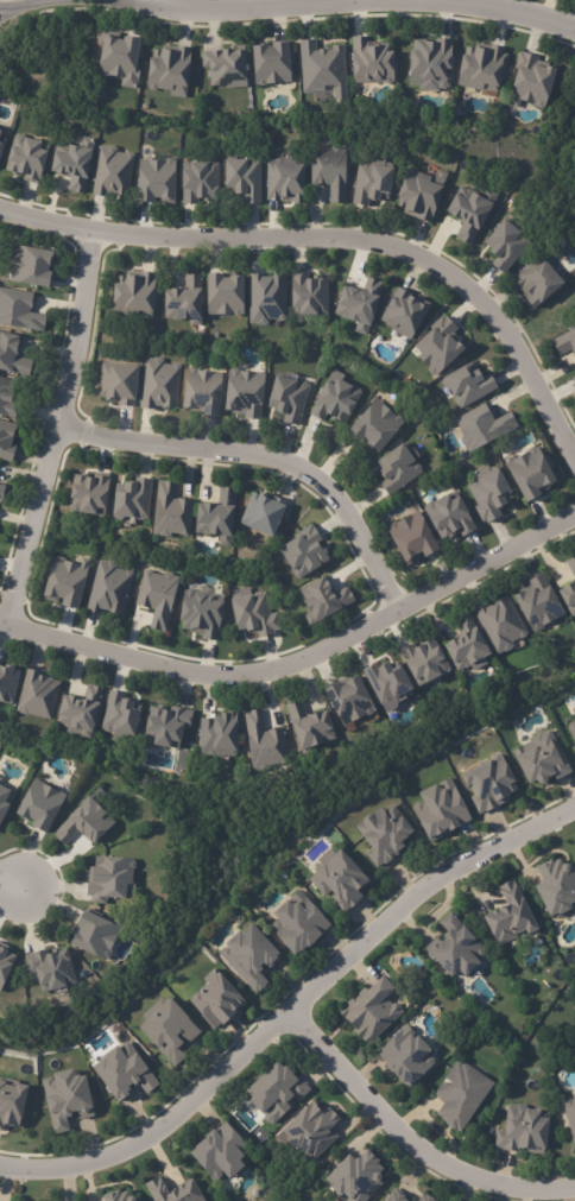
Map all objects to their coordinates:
road: (335, 0)
road: (366, 0)
road: (238, 2)
road: (264, 2)
road: (479, 2)
road: (14, 5)
road: (498, 5)
road: (546, 10)
road: (6, 11)
road: (137, 15)
road: (359, 15)
road: (303, 17)
road: (444, 17)
road: (277, 19)
road: (185, 23)
road: (213, 24)
road: (500, 25)
road: (535, 32)
building: (118, 55)
building: (268, 62)
building: (372, 62)
building: (429, 64)
building: (222, 67)
building: (321, 68)
building: (481, 68)
building: (166, 70)
building: (527, 78)
building: (0, 128)
building: (2, 139)
building: (26, 158)
building: (72, 164)
building: (328, 171)
building: (109, 172)
building: (241, 178)
building: (153, 179)
building: (196, 181)
building: (368, 181)
building: (285, 182)
building: (415, 195)
building: (468, 213)
road: (340, 238)
building: (504, 247)
building: (30, 267)
building: (538, 282)
building: (133, 295)
building: (225, 295)
building: (308, 296)
building: (265, 298)
building: (182, 302)
building: (356, 305)
building: (19, 310)
building: (402, 315)
building: (565, 341)
building: (440, 345)
building: (12, 356)
building: (574, 379)
building: (157, 384)
building: (115, 385)
building: (466, 386)
building: (198, 392)
building: (245, 393)
building: (7, 398)
building: (286, 398)
building: (333, 402)
building: (374, 425)
building: (484, 426)
road: (56, 431)
building: (6, 440)
road: (261, 461)
building: (397, 469)
building: (529, 473)
building: (1, 487)
building: (488, 494)
building: (86, 495)
building: (128, 501)
building: (169, 512)
building: (265, 514)
building: (215, 517)
building: (447, 517)
building: (410, 538)
building: (303, 551)
building: (571, 562)
building: (64, 583)
building: (107, 590)
building: (568, 594)
building: (157, 598)
building: (538, 600)
building: (321, 601)
building: (200, 614)
building: (251, 615)
building: (499, 624)
building: (465, 646)
road: (301, 662)
building: (0, 663)
building: (423, 663)
building: (385, 679)
building: (7, 683)
building: (38, 697)
building: (349, 701)
building: (78, 712)
building: (574, 713)
building: (120, 714)
building: (308, 726)
building: (163, 727)
building: (571, 732)
building: (219, 737)
building: (263, 745)
building: (538, 760)
building: (488, 784)
building: (5, 801)
building: (39, 805)
building: (440, 810)
building: (83, 823)
building: (384, 834)
building: (109, 879)
road: (13, 880)
building: (340, 881)
building: (555, 887)
building: (511, 917)
building: (296, 925)
building: (96, 933)
building: (454, 949)
building: (249, 957)
building: (5, 966)
building: (48, 967)
building: (216, 998)
road: (293, 1007)
building: (368, 1012)
building: (165, 1030)
building: (404, 1058)
building: (121, 1073)
building: (274, 1092)
building: (459, 1095)
building: (67, 1100)
building: (12, 1106)
building: (570, 1114)
building: (309, 1132)
building: (523, 1132)
road: (410, 1142)
building: (217, 1153)
building: (355, 1178)
building: (172, 1191)
building: (396, 1196)
building: (426, 1196)
building: (115, 1197)

